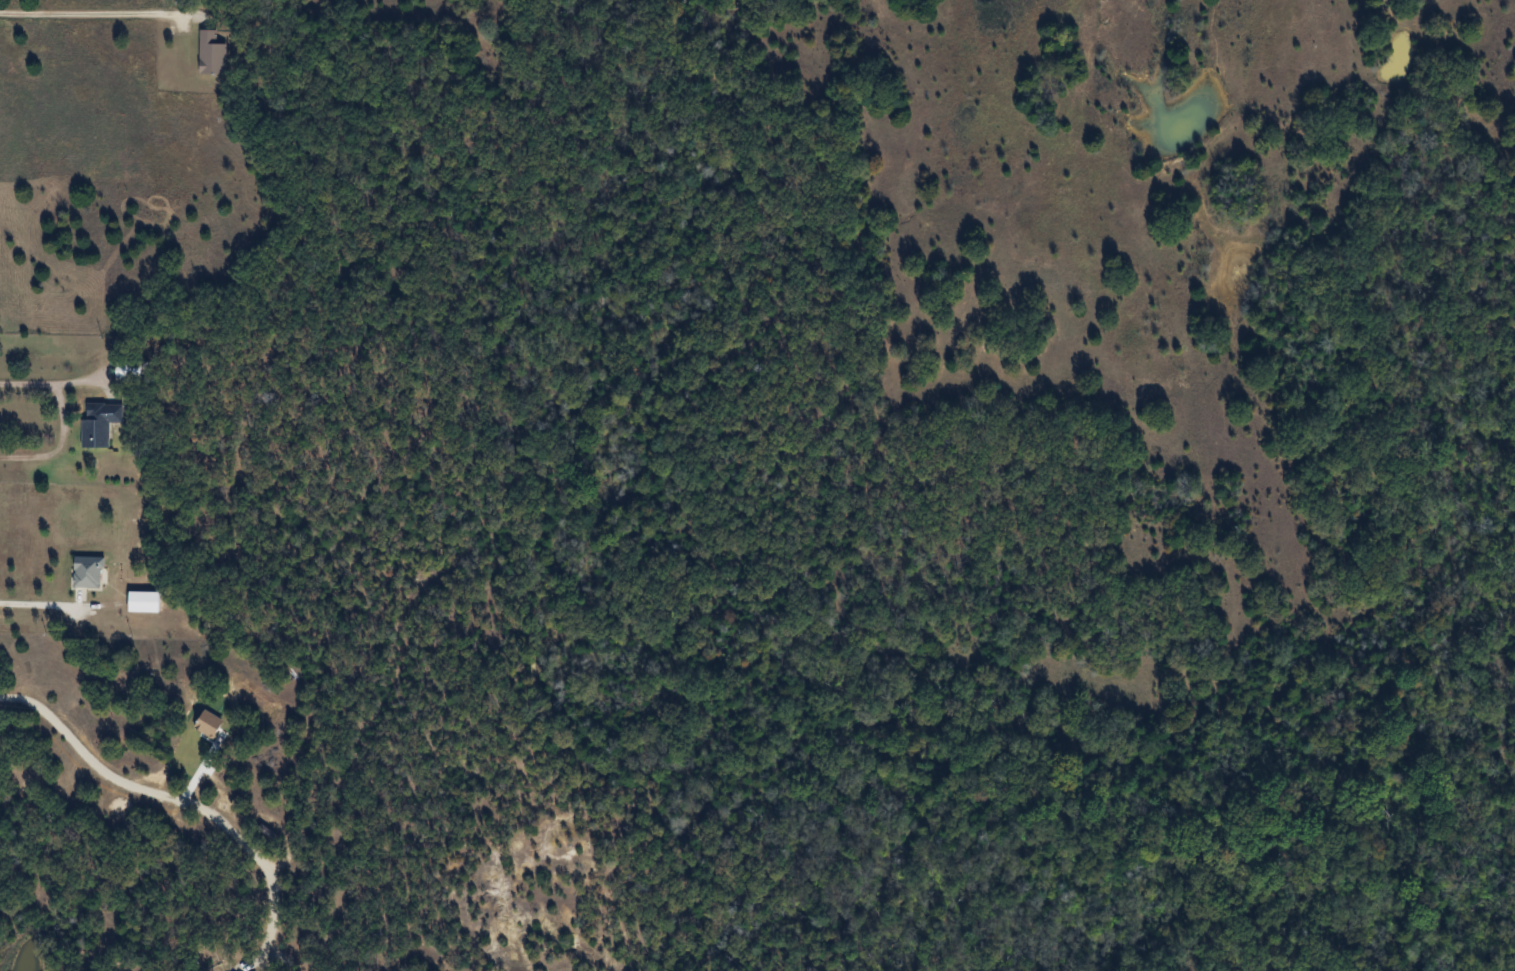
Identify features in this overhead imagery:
road: (96, 12)
building: (210, 53)
building: (127, 371)
road: (62, 422)
building: (99, 423)
building: (86, 572)
building: (141, 601)
road: (39, 603)
road: (179, 800)
building: (268, 835)

